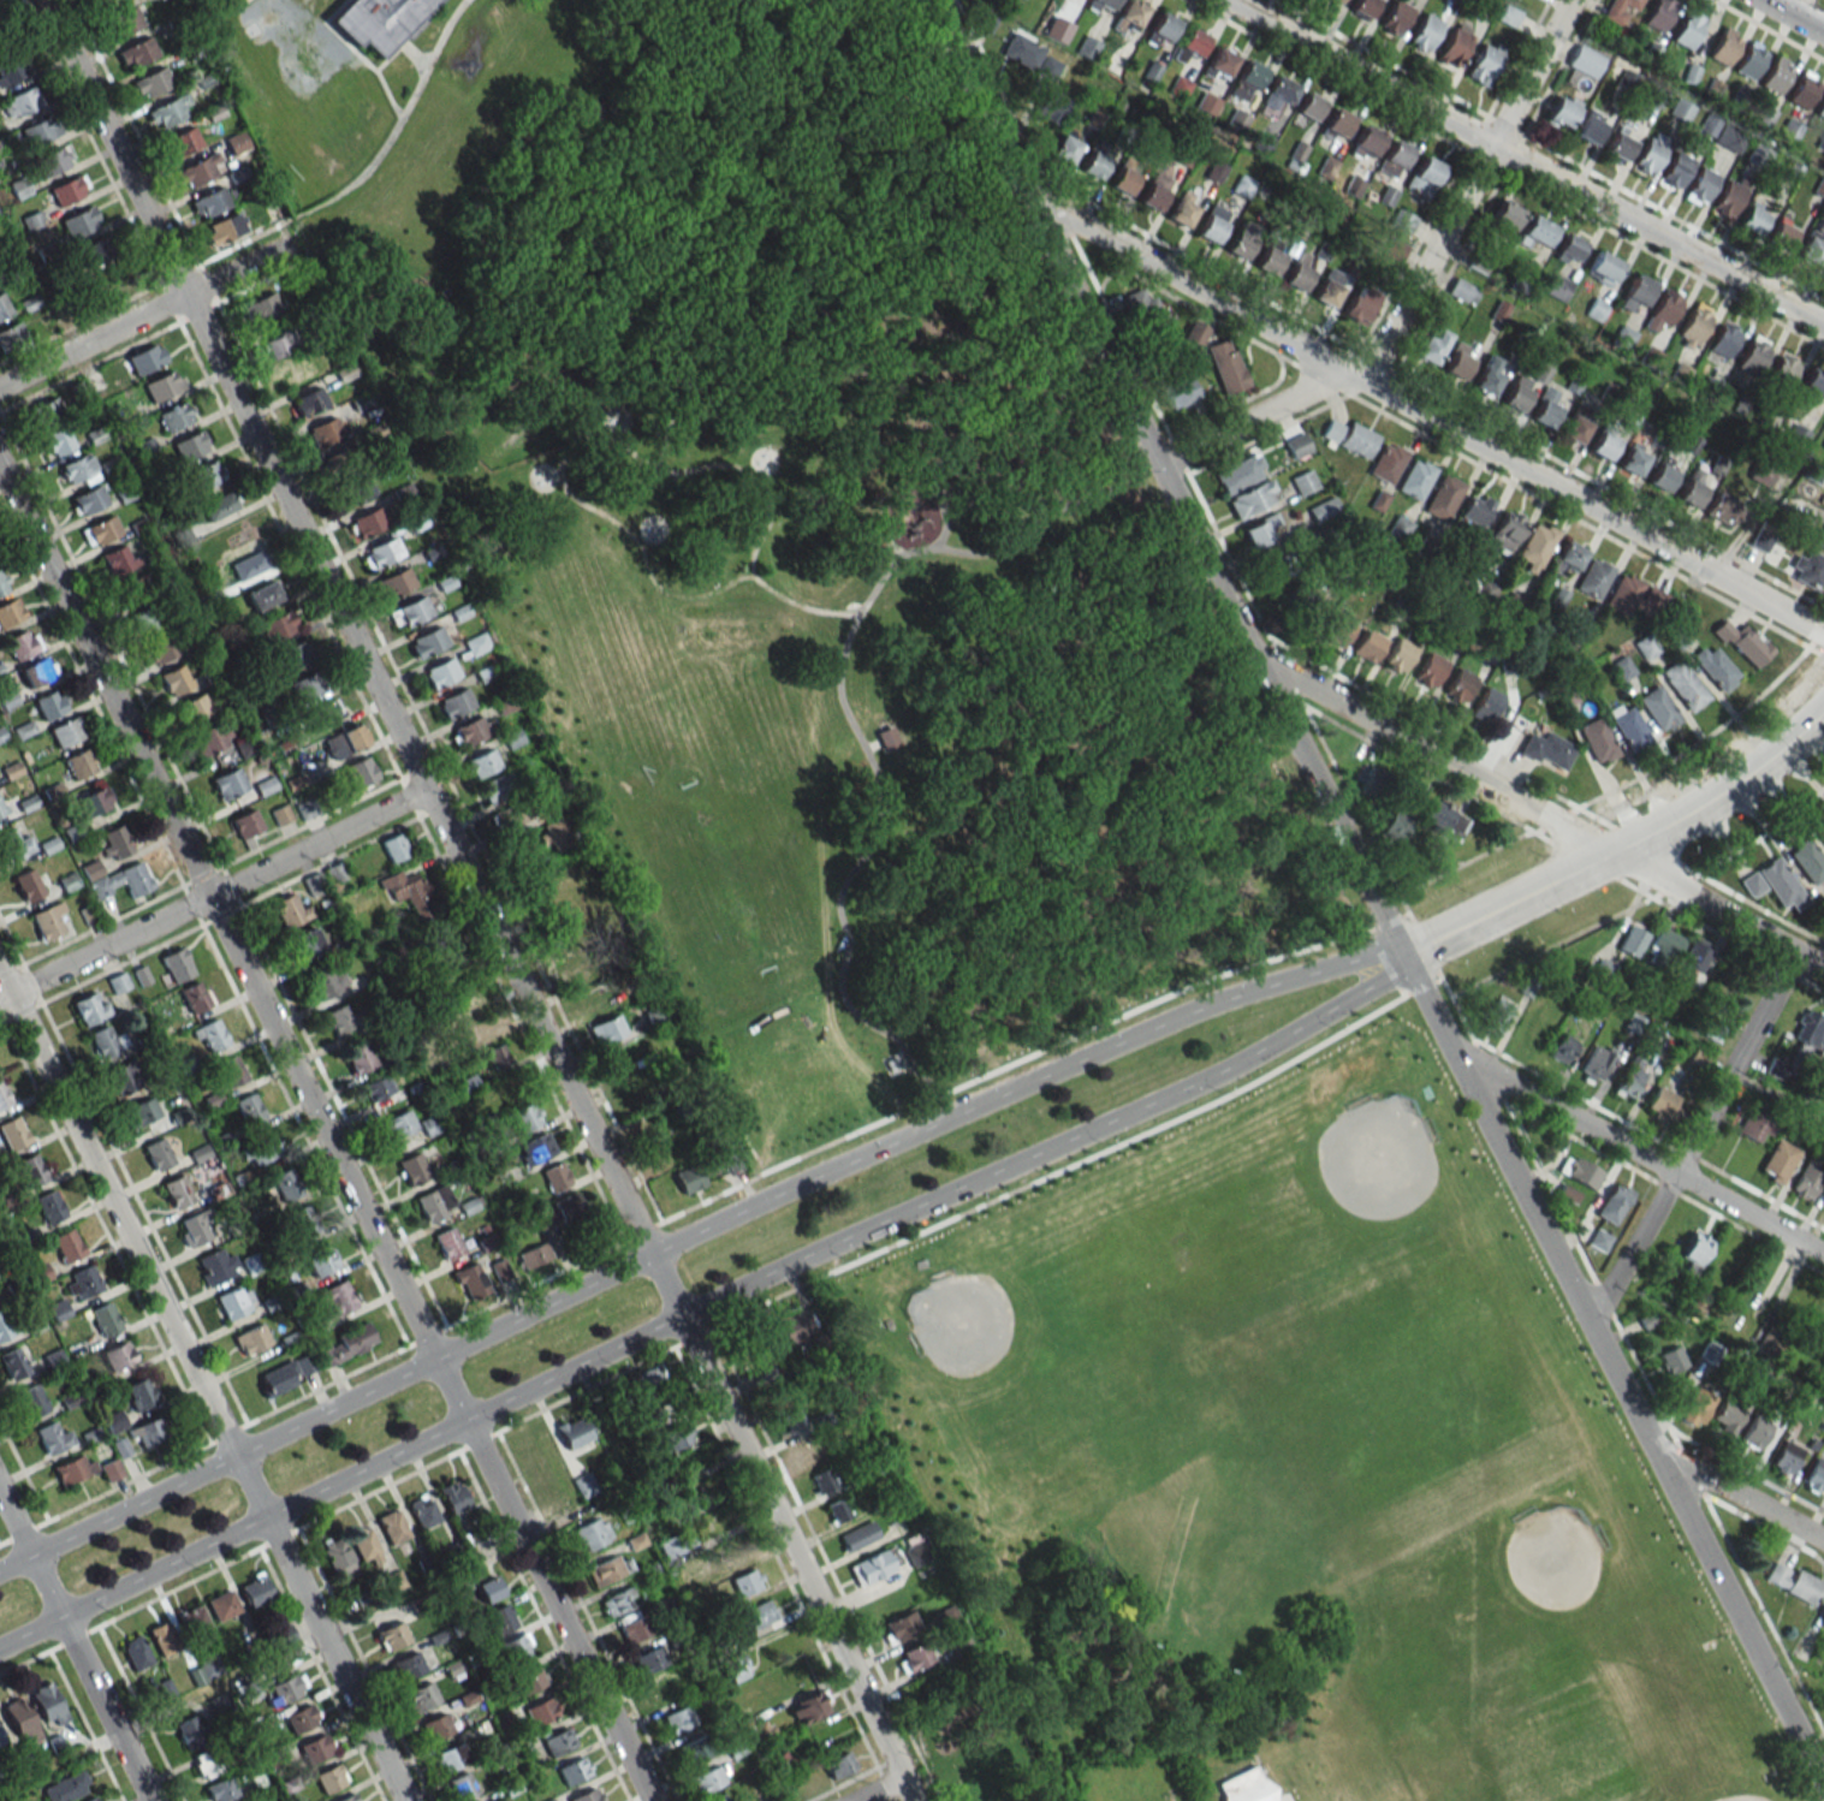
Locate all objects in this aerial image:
building: (1338, 0)
building: (111, 1)
building: (1105, 2)
road: (1782, 2)
building: (1363, 7)
building: (1618, 8)
building: (1130, 11)
building: (1658, 13)
road: (1796, 14)
building: (1395, 17)
building: (126, 20)
building: (378, 20)
building: (985, 20)
building: (1163, 25)
building: (1687, 29)
road: (1767, 30)
building: (1425, 31)
building: (1192, 41)
building: (1454, 46)
building: (1723, 46)
building: (1087, 47)
building: (1021, 50)
road: (411, 52)
building: (136, 53)
road: (357, 54)
road: (390, 58)
building: (1749, 60)
building: (1219, 61)
building: (1484, 63)
building: (1585, 63)
building: (1047, 69)
building: (1250, 73)
building: (1775, 75)
building: (150, 82)
building: (1178, 85)
building: (1802, 89)
building: (1278, 93)
building: (19, 102)
building: (1207, 102)
building: (1051, 106)
building: (1308, 106)
building: (1680, 109)
building: (168, 111)
building: (1819, 111)
building: (1562, 112)
building: (1337, 121)
building: (1590, 126)
building: (40, 130)
building: (1729, 137)
building: (1365, 138)
building: (182, 141)
building: (1618, 144)
building: (1064, 149)
road: (916, 151)
building: (1395, 153)
building: (1650, 153)
building: (52, 161)
road: (1525, 162)
building: (1093, 164)
building: (1426, 170)
building: (197, 171)
building: (1674, 171)
building: (1124, 178)
building: (1240, 184)
building: (1700, 185)
building: (19, 188)
road: (347, 189)
building: (1155, 189)
building: (67, 190)
road: (562, 191)
building: (1729, 196)
building: (212, 201)
building: (1183, 208)
building: (1505, 215)
building: (1753, 218)
building: (1402, 220)
building: (79, 221)
building: (1212, 224)
building: (221, 228)
building: (1535, 231)
road: (284, 233)
building: (1782, 233)
building: (1241, 239)
building: (1394, 249)
building: (1568, 249)
building: (1810, 250)
building: (95, 252)
road: (910, 260)
building: (1269, 260)
building: (1603, 268)
building: (1299, 272)
building: (109, 283)
building: (1330, 286)
road: (1414, 286)
building: (1557, 287)
building: (1462, 291)
building: (1636, 292)
building: (1356, 305)
building: (4, 307)
building: (261, 308)
building: (1141, 310)
building: (1660, 314)
road: (143, 315)
building: (1693, 325)
building: (1196, 332)
building: (11, 333)
road: (961, 335)
building: (1721, 343)
building: (275, 345)
building: (1431, 346)
road: (776, 350)
building: (1752, 355)
building: (145, 358)
building: (1457, 364)
building: (1225, 365)
building: (1783, 369)
building: (293, 374)
building: (1486, 380)
building: (1813, 381)
building: (161, 385)
building: (1516, 392)
building: (1178, 393)
building: (309, 402)
building: (47, 411)
road: (1424, 412)
building: (1544, 412)
road: (630, 415)
building: (173, 416)
building: (1573, 429)
building: (1331, 430)
building: (327, 432)
road: (571, 432)
road: (611, 434)
building: (57, 440)
building: (1357, 440)
building: (189, 445)
building: (1297, 445)
building: (1603, 445)
road: (630, 452)
road: (777, 457)
building: (1632, 460)
building: (1386, 462)
road: (1184, 465)
building: (76, 471)
road: (555, 472)
building: (1240, 472)
building: (207, 474)
road: (559, 476)
road: (756, 476)
building: (1660, 476)
building: (1415, 479)
building: (1303, 482)
building: (353, 491)
building: (1689, 493)
building: (1443, 497)
building: (1252, 499)
building: (87, 500)
building: (218, 505)
building: (1717, 507)
building: (1324, 509)
building: (1475, 509)
building: (366, 522)
road: (666, 525)
building: (1398, 527)
building: (100, 530)
building: (1259, 530)
building: (1505, 530)
building: (231, 537)
road: (642, 541)
building: (1822, 543)
building: (1535, 546)
building: (380, 553)
building: (1567, 557)
building: (118, 559)
park: (820, 564)
building: (249, 565)
building: (1277, 567)
building: (1808, 569)
building: (1593, 577)
building: (394, 583)
building: (2, 584)
building: (136, 587)
building: (265, 594)
building: (1634, 595)
building: (10, 612)
building: (409, 612)
building: (147, 620)
building: (277, 625)
building: (1337, 631)
building: (427, 642)
building: (1742, 642)
building: (22, 643)
building: (1367, 646)
building: (1647, 648)
building: (158, 650)
building: (1400, 654)
building: (291, 655)
building: (1622, 667)
building: (1715, 667)
building: (1430, 670)
building: (36, 671)
building: (440, 672)
building: (173, 679)
building: (1682, 683)
building: (1458, 685)
building: (303, 686)
building: (454, 702)
building: (50, 703)
road: (845, 703)
building: (1485, 703)
building: (195, 706)
building: (1658, 707)
building: (320, 715)
building: (1629, 729)
building: (66, 731)
building: (469, 731)
building: (209, 738)
building: (889, 738)
building: (1597, 739)
building: (344, 741)
road: (874, 747)
building: (1545, 749)
building: (79, 763)
building: (482, 763)
building: (360, 772)
building: (1371, 783)
building: (227, 784)
building: (495, 787)
building: (94, 801)
building: (1, 809)
road: (1538, 812)
building: (513, 814)
building: (1443, 820)
building: (245, 824)
building: (1396, 825)
building: (1820, 834)
building: (113, 843)
building: (14, 844)
building: (393, 848)
road: (1623, 848)
building: (1807, 860)
building: (120, 880)
park: (723, 881)
building: (30, 882)
building: (1774, 884)
road: (214, 892)
building: (408, 892)
road: (1373, 893)
road: (485, 899)
building: (558, 908)
building: (290, 910)
building: (47, 920)
building: (1632, 941)
building: (305, 943)
building: (1664, 947)
building: (1695, 956)
building: (176, 964)
building: (325, 981)
building: (194, 997)
building: (592, 1001)
building: (89, 1008)
building: (655, 1016)
building: (1498, 1016)
building: (339, 1018)
building: (606, 1029)
building: (1808, 1029)
building: (209, 1036)
building: (103, 1041)
building: (1561, 1047)
building: (1823, 1051)
building: (358, 1056)
building: (497, 1056)
building: (1596, 1064)
building: (893, 1065)
road: (887, 1068)
building: (230, 1071)
building: (123, 1078)
building: (1629, 1078)
building: (376, 1088)
building: (4, 1095)
building: (1660, 1104)
building: (249, 1108)
building: (141, 1111)
building: (525, 1116)
building: (398, 1124)
building: (1754, 1127)
building: (12, 1133)
road: (323, 1134)
road: (910, 1135)
road: (1692, 1139)
building: (534, 1148)
building: (262, 1149)
road: (1638, 1153)
building: (158, 1154)
building: (1778, 1161)
building: (411, 1169)
building: (30, 1170)
building: (1579, 1171)
building: (554, 1176)
building: (688, 1178)
building: (1806, 1182)
building: (285, 1184)
building: (176, 1190)
road: (940, 1199)
building: (1614, 1202)
building: (434, 1203)
road: (696, 1205)
building: (49, 1207)
building: (557, 1209)
building: (307, 1222)
building: (194, 1228)
building: (1599, 1240)
building: (447, 1243)
building: (66, 1244)
building: (1697, 1246)
building: (533, 1255)
building: (320, 1259)
building: (215, 1265)
building: (469, 1280)
building: (82, 1283)
building: (335, 1300)
building: (234, 1301)
building: (105, 1319)
building: (1730, 1320)
building: (1820, 1320)
building: (4, 1329)
building: (251, 1338)
building: (1771, 1343)
building: (344, 1344)
building: (117, 1356)
building: (1673, 1359)
building: (12, 1363)
building: (283, 1375)
building: (654, 1377)
building: (767, 1378)
road: (201, 1387)
building: (139, 1393)
building: (31, 1401)
building: (1695, 1407)
building: (1727, 1415)
building: (113, 1421)
building: (794, 1421)
building: (572, 1431)
building: (145, 1432)
building: (1754, 1432)
building: (677, 1436)
building: (53, 1437)
building: (809, 1454)
building: (1784, 1458)
building: (533, 1462)
road: (216, 1464)
building: (73, 1468)
park: (1287, 1472)
building: (1814, 1476)
building: (822, 1480)
building: (583, 1485)
road: (1739, 1494)
building: (452, 1496)
building: (691, 1500)
building: (422, 1510)
building: (836, 1510)
building: (392, 1526)
building: (592, 1533)
road: (232, 1534)
building: (857, 1535)
building: (364, 1545)
building: (914, 1550)
building: (667, 1551)
building: (338, 1557)
building: (873, 1565)
building: (606, 1570)
building: (685, 1576)
building: (745, 1581)
building: (1793, 1581)
building: (482, 1586)
building: (255, 1589)
building: (617, 1601)
building: (221, 1605)
building: (757, 1615)
building: (945, 1616)
building: (1820, 1618)
building: (498, 1619)
building: (194, 1624)
building: (899, 1627)
building: (634, 1629)
building: (283, 1635)
building: (391, 1635)
building: (162, 1637)
building: (959, 1645)
road: (73, 1647)
building: (515, 1648)
building: (135, 1653)
building: (914, 1657)
building: (648, 1660)
building: (405, 1666)
building: (735, 1668)
building: (527, 1681)
building: (785, 1681)
building: (285, 1689)
building: (664, 1689)
building: (420, 1696)
building: (47, 1705)
building: (809, 1707)
building: (540, 1711)
building: (19, 1718)
building: (301, 1718)
building: (678, 1718)
building: (435, 1726)
building: (189, 1731)
building: (759, 1731)
building: (0, 1741)
building: (558, 1741)
building: (315, 1747)
building: (693, 1749)
building: (448, 1758)
building: (208, 1763)
building: (839, 1764)
building: (574, 1770)
building: (329, 1777)
building: (974, 1777)
building: (708, 1779)
building: (67, 1787)
building: (461, 1787)
building: (1246, 1787)
building: (222, 1789)
road: (881, 1790)
building: (587, 1795)
building: (346, 1797)
building: (90, 1799)
building: (718, 1799)
building: (485, 1800)

